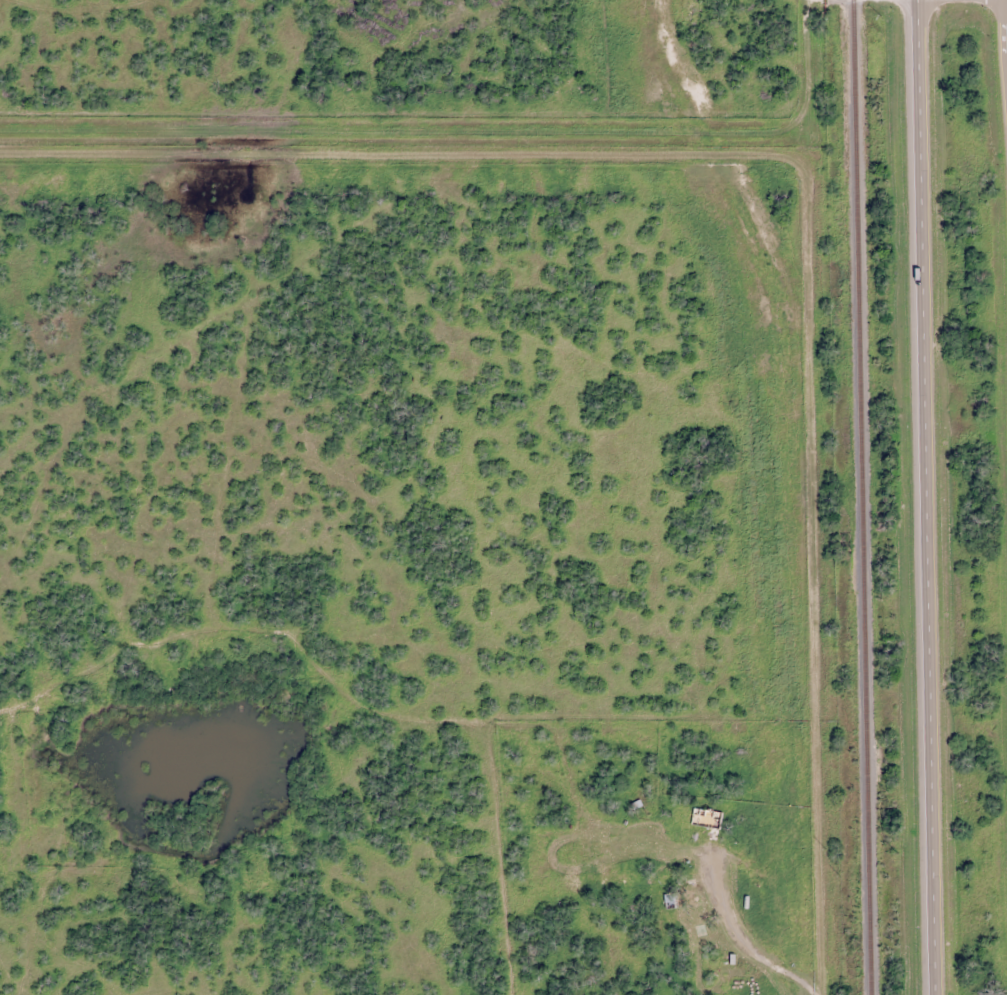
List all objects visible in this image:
road: (861, 0)
railway: (867, 497)
road: (930, 497)
building: (705, 825)
building: (667, 903)

